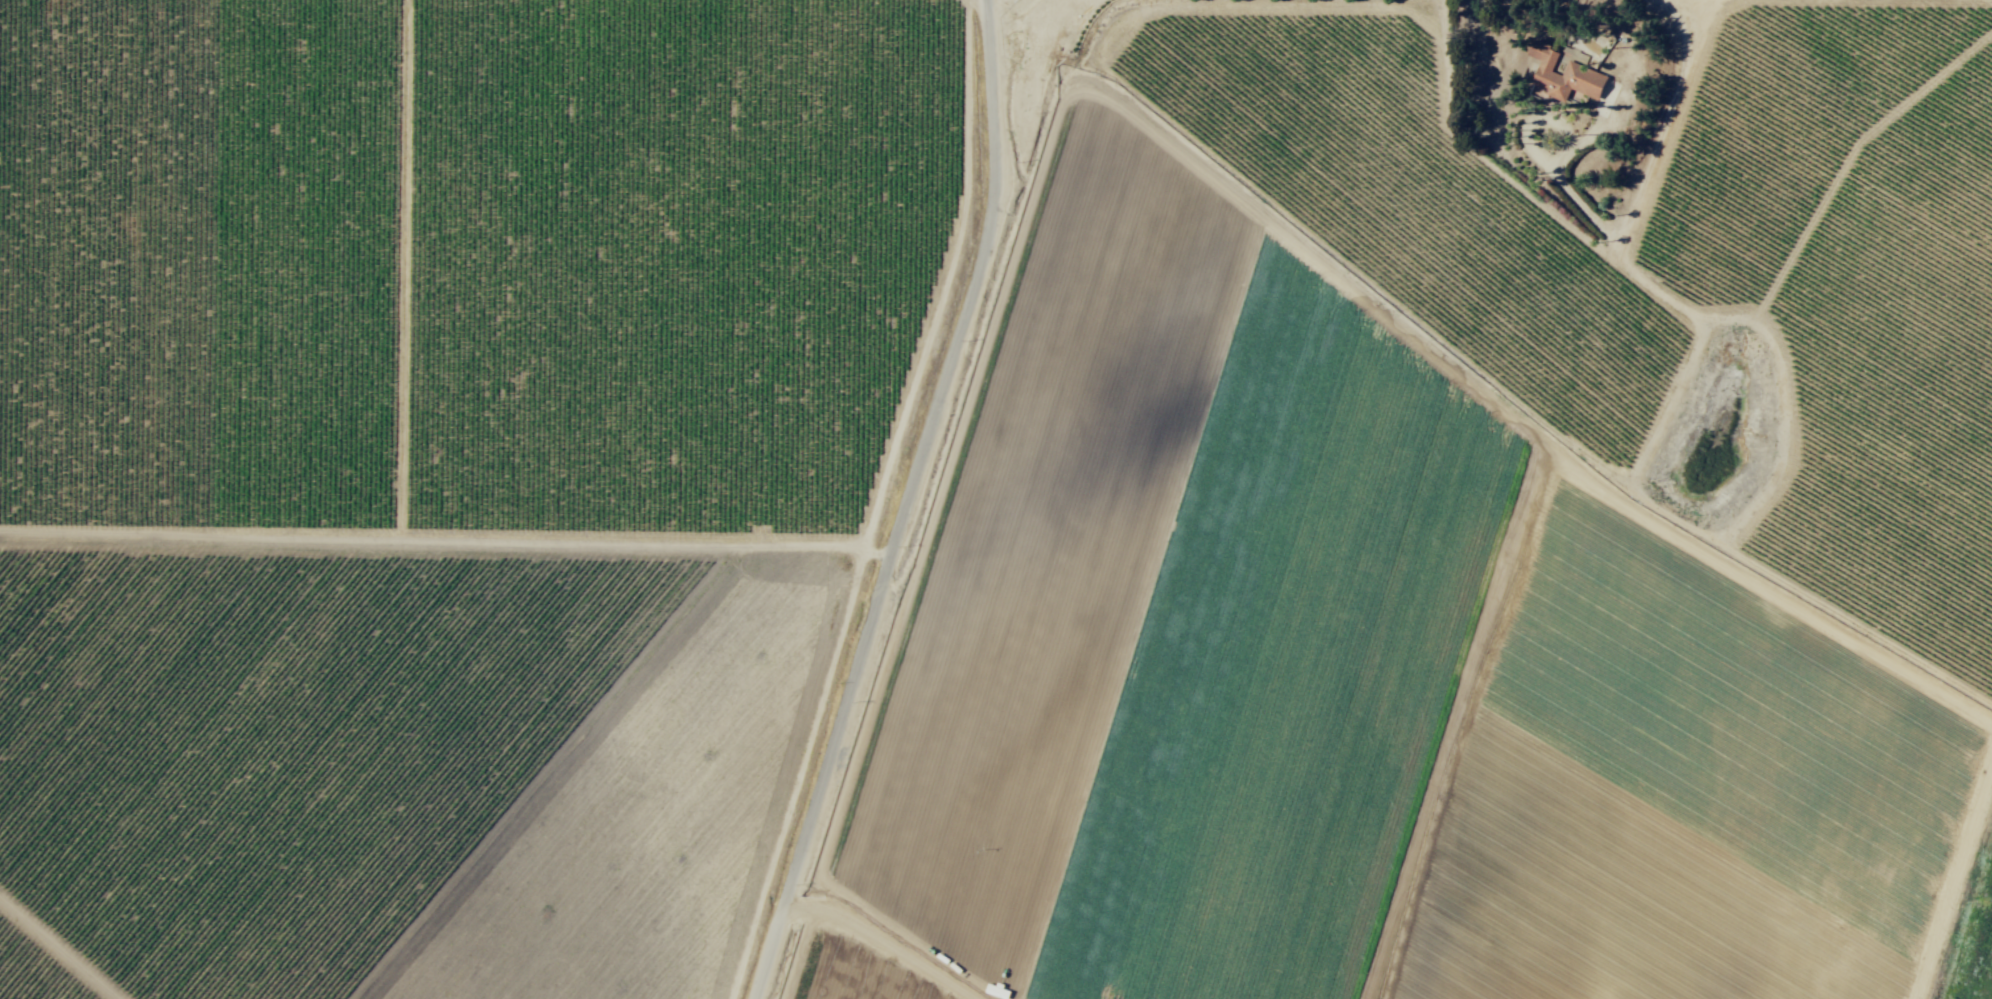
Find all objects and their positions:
building: (1566, 76)
crop: (996, 499)
road: (876, 504)
road: (906, 504)
road: (446, 540)
road: (882, 940)
road: (61, 946)

